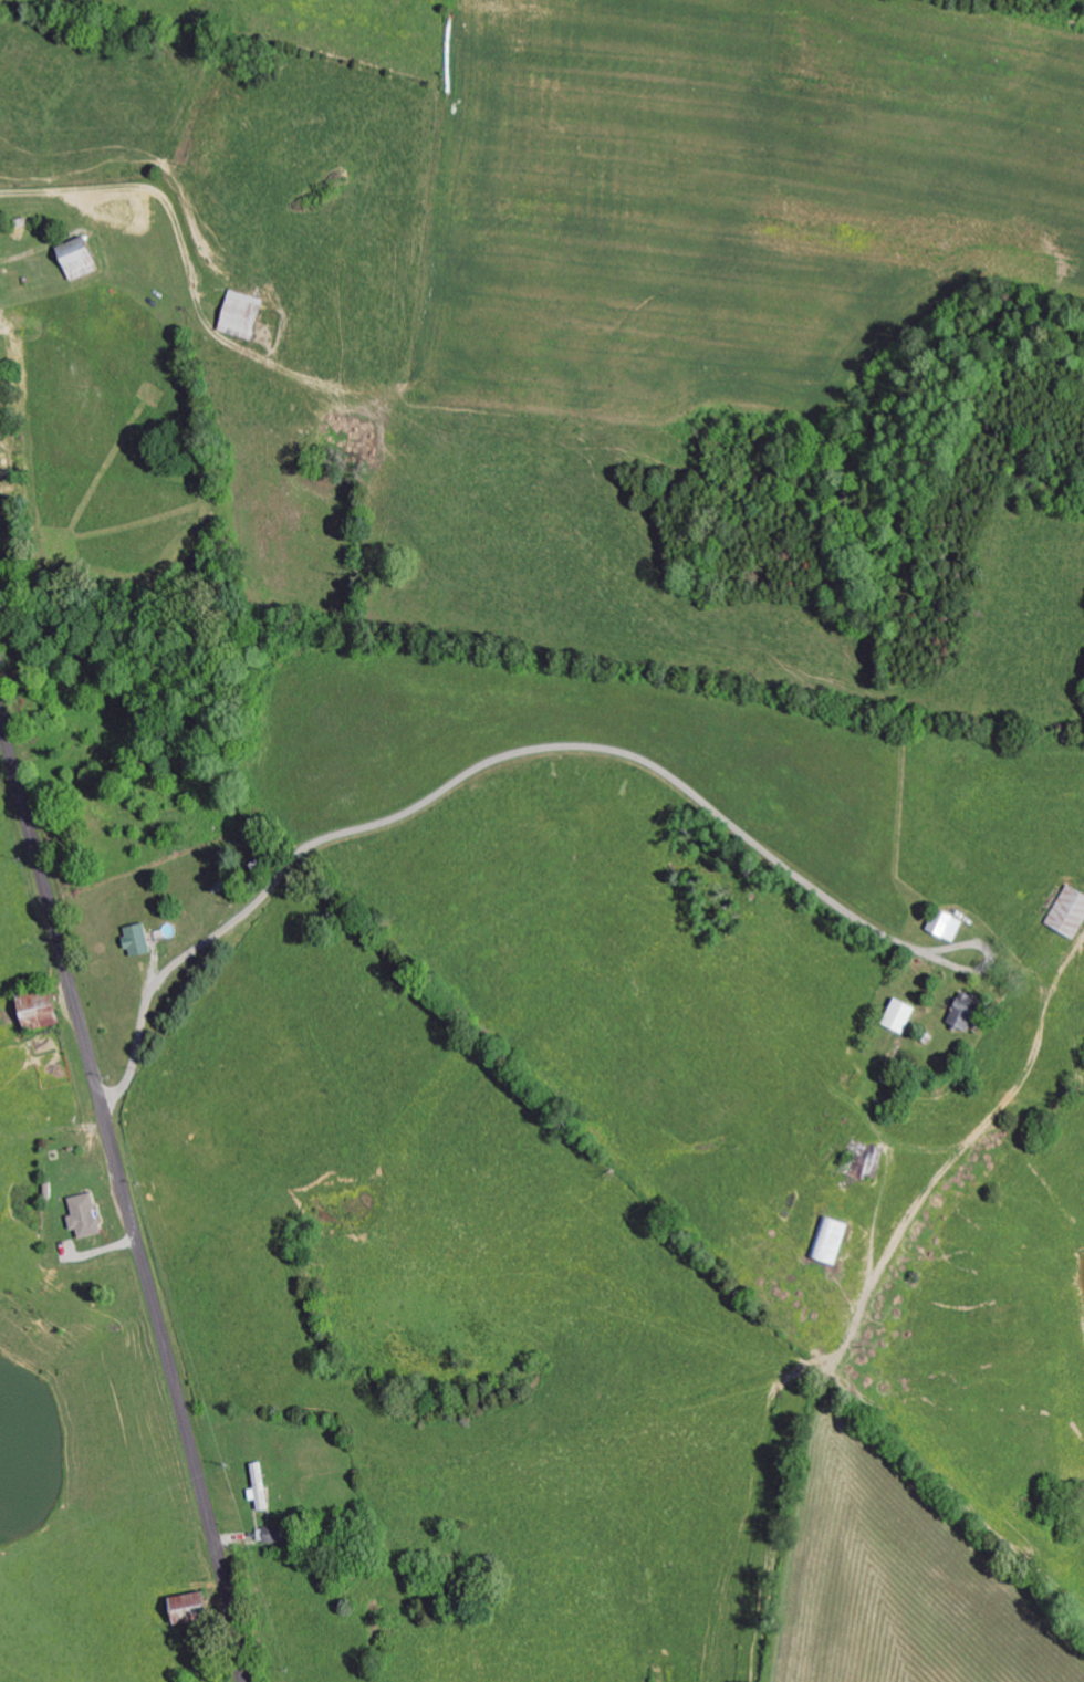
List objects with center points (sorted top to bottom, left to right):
building: (87, 263)
building: (246, 314)
building: (1072, 912)
building: (950, 924)
building: (140, 940)
road: (168, 969)
building: (44, 1007)
building: (967, 1011)
building: (905, 1014)
road: (123, 1198)
building: (88, 1215)
building: (832, 1239)
building: (262, 1487)
building: (277, 1534)

